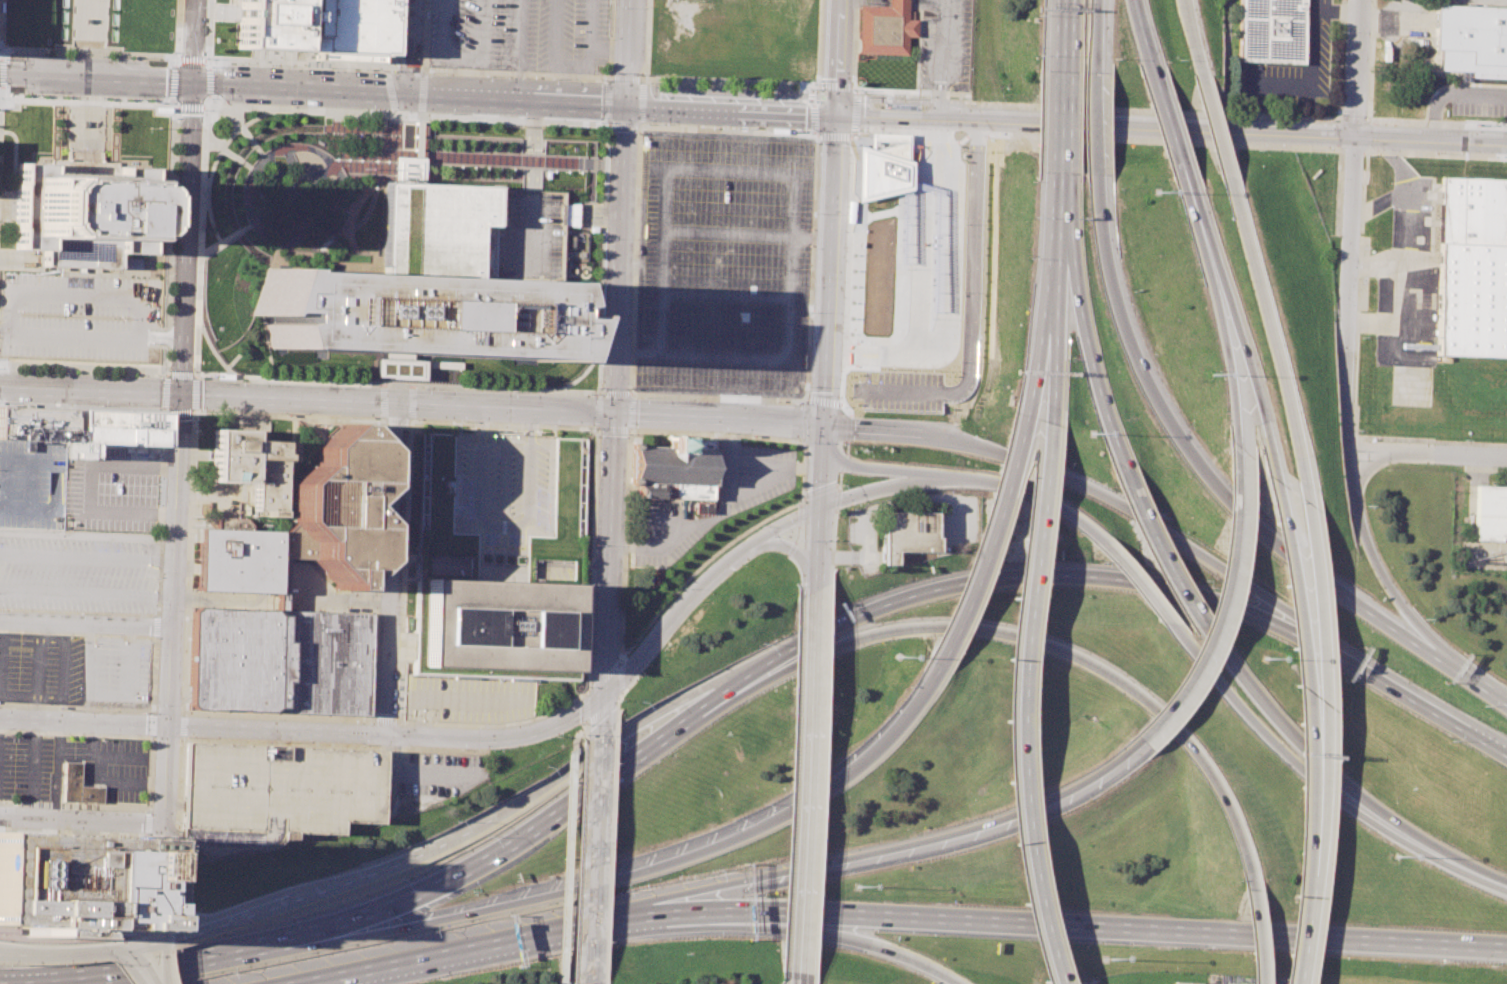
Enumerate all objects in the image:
road: (89, 0)
street lamp: (424, 2)
road: (234, 6)
road: (1338, 6)
street lamp: (613, 7)
road: (211, 11)
road: (222, 11)
road: (235, 12)
road: (1398, 17)
road: (232, 20)
road: (0, 24)
building: (267, 24)
building: (344, 28)
road: (819, 28)
road: (395, 29)
building: (885, 29)
road: (1138, 30)
building: (1269, 31)
road: (208, 32)
street lamp: (1340, 32)
road: (176, 33)
parking lot: (473, 33)
parking lot: (562, 35)
road: (1061, 36)
road: (1093, 36)
road: (92, 38)
road: (101, 38)
road: (553, 39)
road: (588, 39)
road: (609, 39)
building: (1472, 39)
road: (192, 42)
road: (1192, 42)
parking lot: (946, 44)
road: (408, 45)
road: (1313, 46)
road: (517, 47)
road: (609, 47)
road: (295, 48)
road: (630, 50)
road: (87, 52)
street lamp: (37, 53)
street lamp: (398, 53)
street lamp: (74, 54)
street lamp: (178, 55)
road: (837, 55)
street lamp: (102, 56)
street lamp: (139, 57)
road: (461, 58)
road: (943, 58)
street lamp: (5, 59)
street lamp: (144, 59)
road: (396, 59)
road: (1340, 59)
road: (1371, 59)
road: (86, 62)
road: (295, 62)
street lamp: (241, 63)
road: (177, 64)
street lamp: (271, 64)
street lamp: (170, 65)
road: (191, 65)
road: (208, 65)
street lamp: (291, 65)
road: (391, 65)
road: (408, 65)
street lamp: (211, 66)
street lamp: (330, 67)
road: (384, 69)
road: (422, 69)
road: (522, 69)
street lamp: (392, 70)
parking lot: (1291, 70)
street lamp: (610, 72)
road: (519, 73)
street lamp: (485, 74)
street lamp: (640, 75)
road: (507, 76)
street lamp: (550, 78)
road: (608, 78)
road: (645, 78)
street lamp: (852, 78)
road: (95, 79)
road: (568, 80)
street lamp: (601, 80)
road: (643, 80)
road: (208, 81)
road: (589, 81)
road: (634, 81)
road: (735, 81)
road: (176, 83)
traffic signals: (191, 84)
road: (1266, 85)
street lamp: (5, 86)
road: (817, 86)
street lamp: (806, 87)
traffic signals: (407, 91)
road: (410, 91)
road: (388, 92)
street lamp: (863, 93)
street lamp: (35, 94)
road: (420, 94)
road: (1452, 94)
street lamp: (72, 96)
street lamp: (100, 97)
street lamp: (957, 97)
street lamp: (137, 98)
street lamp: (211, 98)
street lamp: (168, 100)
road: (208, 100)
traffic signals: (629, 100)
parking lot: (1479, 100)
road: (86, 101)
road: (176, 101)
road: (642, 102)
road: (68, 103)
road: (175, 103)
road: (854, 103)
road: (190, 104)
road: (1009, 104)
road: (2, 105)
road: (105, 105)
road: (204, 105)
road: (731, 105)
road: (608, 106)
street lamp: (289, 107)
road: (265, 108)
road: (151, 111)
road: (171, 111)
street lamp: (368, 111)
traffic signals: (835, 111)
street lamp: (446, 113)
road: (900, 114)
street lamp: (1335, 114)
street lamp: (518, 117)
road: (816, 120)
road: (1167, 120)
road: (1384, 120)
street lamp: (601, 121)
road: (1060, 122)
street lamp: (648, 123)
road: (1093, 124)
road: (641, 126)
flagpole: (149, 127)
street lamp: (734, 127)
road: (1236, 129)
road: (244, 130)
street lamp: (805, 130)
road: (1214, 130)
road: (402, 131)
road: (728, 131)
street lamp: (638, 133)
street lamp: (861, 134)
traffic signals: (1354, 135)
road: (1108, 138)
street lamp: (1257, 149)
road: (228, 151)
street lamp: (1436, 151)
street lamp: (1369, 154)
road: (1436, 154)
street lamp: (1498, 155)
road: (478, 156)
road: (214, 161)
street lamp: (200, 163)
flagpole: (363, 167)
road: (670, 169)
road: (608, 171)
road: (530, 181)
road: (1337, 191)
road: (1060, 199)
road: (1381, 203)
building: (81, 211)
street lamp: (198, 216)
road: (815, 217)
road: (1202, 217)
street lamp: (846, 222)
road: (1350, 224)
road: (175, 232)
road: (728, 234)
parking lot: (528, 235)
road: (167, 237)
road: (185, 237)
road: (811, 237)
road: (223, 241)
street lamp: (1362, 247)
road: (621, 256)
road: (602, 259)
road: (1410, 259)
road: (1380, 261)
building: (129, 263)
parking lot: (723, 264)
road: (811, 265)
road: (829, 268)
building: (1471, 269)
street lamp: (196, 272)
road: (1056, 272)
road: (808, 277)
road: (960, 279)
building: (413, 288)
parking lot: (1406, 290)
road: (75, 295)
road: (726, 296)
street lamp: (810, 312)
parking lot: (79, 315)
road: (1378, 322)
street lamp: (194, 325)
road: (844, 327)
road: (90, 336)
street lamp: (1360, 337)
road: (1271, 338)
road: (197, 347)
road: (632, 347)
road: (1085, 347)
road: (1226, 352)
road: (637, 353)
road: (783, 358)
parking lot: (898, 358)
road: (269, 362)
road: (85, 365)
road: (160, 366)
road: (1038, 366)
road: (1248, 368)
road: (1356, 369)
street lamp: (193, 371)
road: (1051, 372)
road: (180, 374)
road: (196, 374)
road: (166, 375)
road: (216, 375)
road: (581, 375)
road: (1142, 375)
street lamp: (237, 379)
street lamp: (328, 384)
road: (435, 385)
street lamp: (422, 387)
street lamp: (629, 387)
road: (89, 389)
road: (165, 392)
traffic signals: (180, 392)
road: (195, 393)
road: (614, 394)
road: (630, 394)
street lamp: (640, 397)
street lamp: (839, 399)
road: (806, 401)
road: (396, 402)
street lamp: (793, 403)
road: (806, 403)
road: (164, 408)
road: (597, 411)
road: (628, 411)
road: (179, 413)
street lamp: (279, 413)
traffic signals: (613, 413)
road: (165, 414)
road: (649, 414)
road: (395, 420)
street lamp: (457, 420)
road: (754, 421)
building: (34, 424)
street lamp: (550, 424)
traffic signals: (824, 425)
building: (116, 427)
road: (612, 427)
road: (840, 427)
street lamp: (1358, 429)
road: (163, 430)
street lamp: (383, 431)
street lamp: (718, 432)
road: (888, 432)
flagpole: (497, 434)
flagpole: (511, 434)
street lamp: (595, 436)
street lamp: (1464, 439)
road: (1352, 444)
road: (839, 447)
street lamp: (863, 447)
road: (803, 450)
road: (1426, 453)
road: (840, 461)
building: (251, 467)
road: (866, 467)
road: (1485, 468)
building: (672, 469)
parking lot: (748, 473)
road: (774, 473)
road: (381, 474)
road: (407, 479)
street lamp: (804, 479)
road: (838, 481)
parking lot: (31, 484)
parking lot: (110, 487)
parking lot: (501, 488)
road: (1026, 488)
road: (877, 490)
road: (820, 494)
road: (836, 499)
road: (801, 501)
building: (338, 502)
street lamp: (1367, 505)
street lamp: (850, 507)
road: (821, 508)
traffic signals: (821, 509)
building: (1491, 513)
road: (801, 515)
road: (709, 518)
road: (500, 523)
street lamp: (761, 525)
road: (1166, 530)
building: (904, 533)
road: (87, 535)
parking lot: (659, 535)
road: (800, 535)
street lamp: (593, 543)
road: (833, 546)
road: (1485, 551)
road: (796, 552)
road: (987, 552)
road: (794, 553)
road: (1163, 553)
road: (87, 557)
building: (246, 558)
road: (1377, 564)
road: (393, 569)
parking lot: (78, 574)
road: (607, 574)
road: (799, 577)
road: (1010, 577)
road: (1139, 578)
street lamp: (682, 587)
road: (86, 591)
road: (622, 601)
road: (1356, 601)
road: (1216, 604)
road: (172, 608)
road: (78, 611)
street lamp: (1424, 618)
road: (85, 624)
building: (497, 624)
road: (155, 626)
road: (1023, 638)
road: (185, 654)
road: (587, 656)
building: (279, 662)
parking lot: (70, 669)
road: (152, 672)
road: (619, 677)
road: (1304, 679)
road: (1475, 684)
road: (1321, 690)
road: (623, 691)
traffic signals: (604, 692)
road: (446, 697)
parking lot: (467, 699)
street lamp: (154, 704)
road: (1019, 705)
road: (586, 706)
road: (617, 708)
street lamp: (65, 709)
road: (1432, 709)
street lamp: (140, 712)
road: (385, 721)
road: (182, 725)
road: (586, 732)
road: (111, 735)
street lamp: (188, 736)
road: (152, 737)
road: (451, 739)
road: (248, 741)
road: (612, 746)
road: (1308, 746)
road: (1278, 750)
parking lot: (113, 771)
parking lot: (441, 773)
road: (823, 778)
road: (808, 782)
road: (792, 784)
building: (77, 787)
building: (271, 792)
parking garage: (271, 792)
road: (74, 806)
street lamp: (71, 808)
road: (81, 821)
street lamp: (175, 821)
road: (74, 831)
road: (906, 844)
road: (612, 849)
road: (493, 856)
road: (598, 859)
road: (582, 863)
road: (1461, 866)
road: (146, 870)
road: (633, 876)
building: (69, 882)
road: (162, 882)
road: (347, 882)
road: (184, 911)
road: (183, 914)
road: (178, 922)
road: (160, 927)
road: (1140, 929)
road: (1304, 931)
road: (187, 933)
road: (538, 935)
road: (174, 936)
road: (1256, 937)
traffic signals: (162, 941)
road: (867, 941)
road: (163, 945)
traffic signals: (124, 948)
road: (81, 952)
road: (129, 954)
road: (139, 964)
road: (174, 966)
road: (165, 967)
road: (143, 971)
road: (784, 977)
road: (799, 978)
road: (815, 979)
road: (606, 981)
building: (1183, 982)
road: (593, 983)

